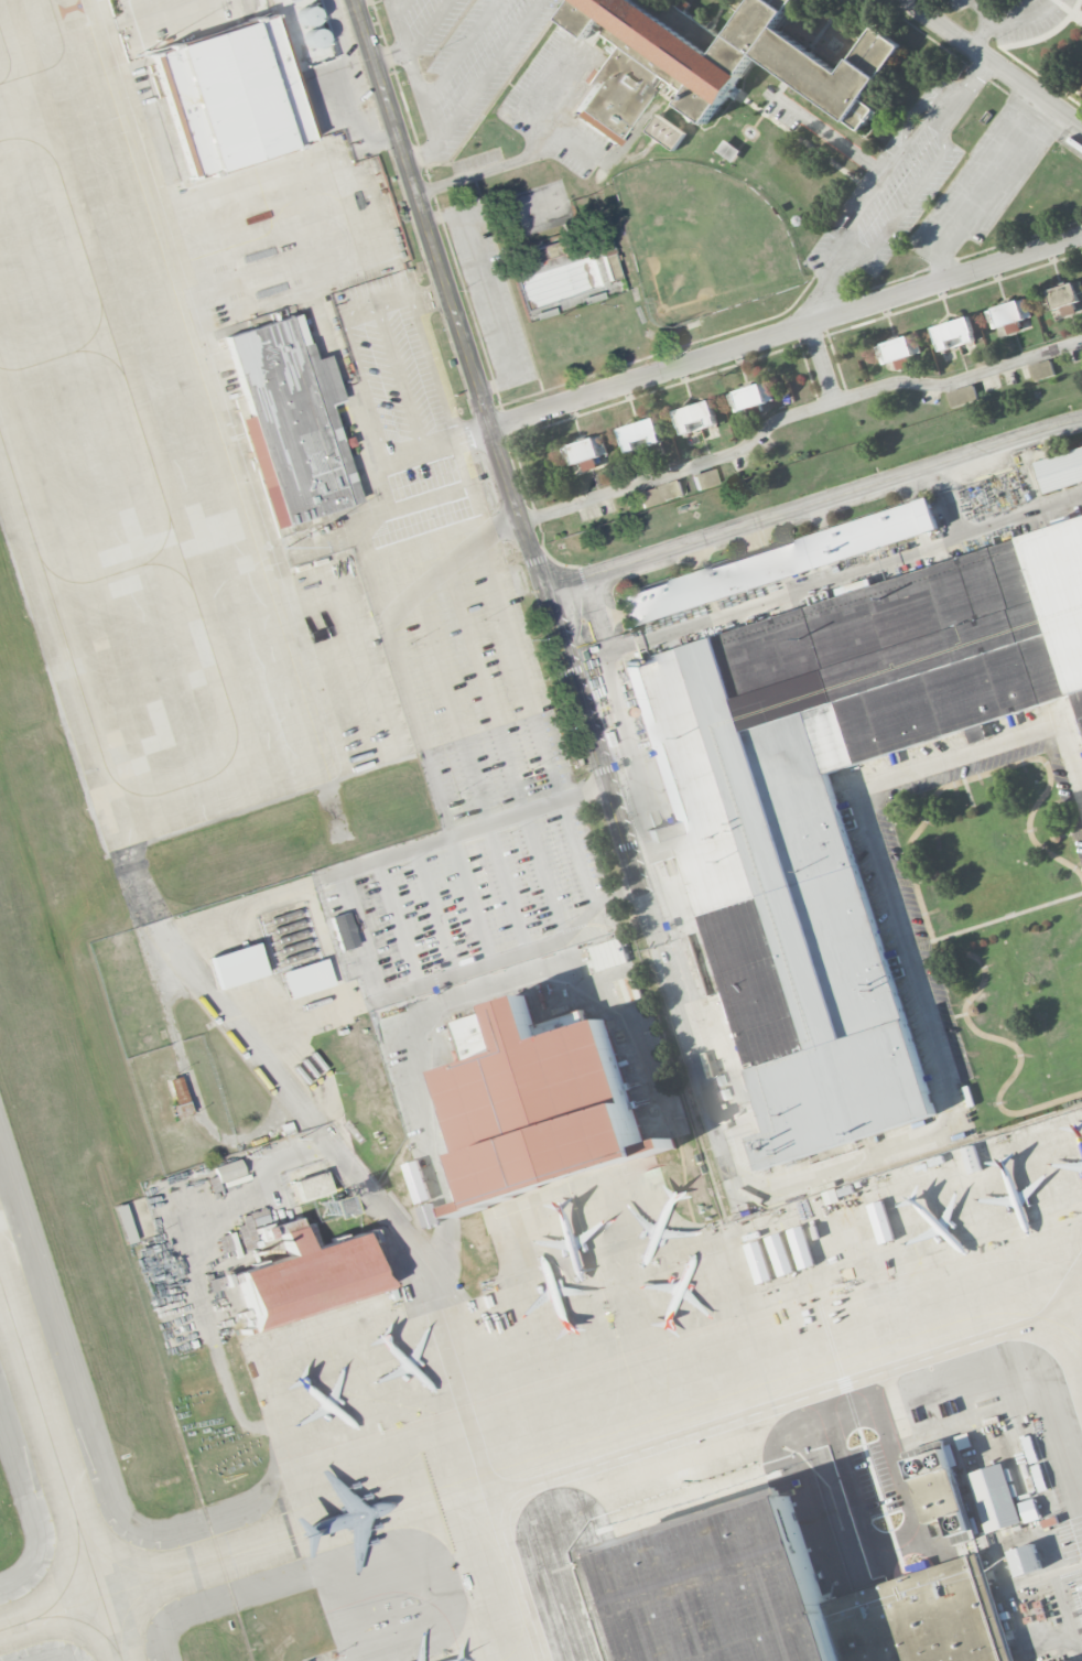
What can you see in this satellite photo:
road: (402, 40)
road: (993, 63)
building: (711, 64)
building: (232, 97)
building: (666, 131)
road: (836, 138)
road: (528, 157)
road: (977, 173)
road: (895, 187)
road: (1006, 190)
park: (699, 240)
road: (943, 269)
building: (1065, 298)
building: (1008, 315)
road: (786, 333)
building: (953, 334)
building: (894, 350)
building: (1041, 370)
building: (962, 396)
building: (747, 398)
road: (797, 413)
building: (695, 417)
airport terminal: (291, 424)
building: (291, 424)
building: (639, 434)
airport apron: (170, 442)
building: (587, 452)
building: (1060, 472)
building: (704, 479)
building: (660, 494)
road: (814, 506)
building: (779, 562)
road: (544, 583)
road: (786, 595)
building: (836, 799)
building: (343, 931)
building: (237, 967)
building: (305, 979)
airport: (398, 1013)
airport hangar: (541, 1104)
building: (541, 1104)
building: (224, 1174)
building: (312, 1187)
building: (125, 1225)
airport hangar: (309, 1279)
building: (309, 1279)
airport apron: (711, 1427)
airport taxiway: (59, 1473)
building: (994, 1497)
building: (1028, 1510)
building: (1025, 1558)
airport taxiway: (149, 1579)
building: (788, 1597)
airport taxiway: (36, 1615)
building: (1069, 1660)

